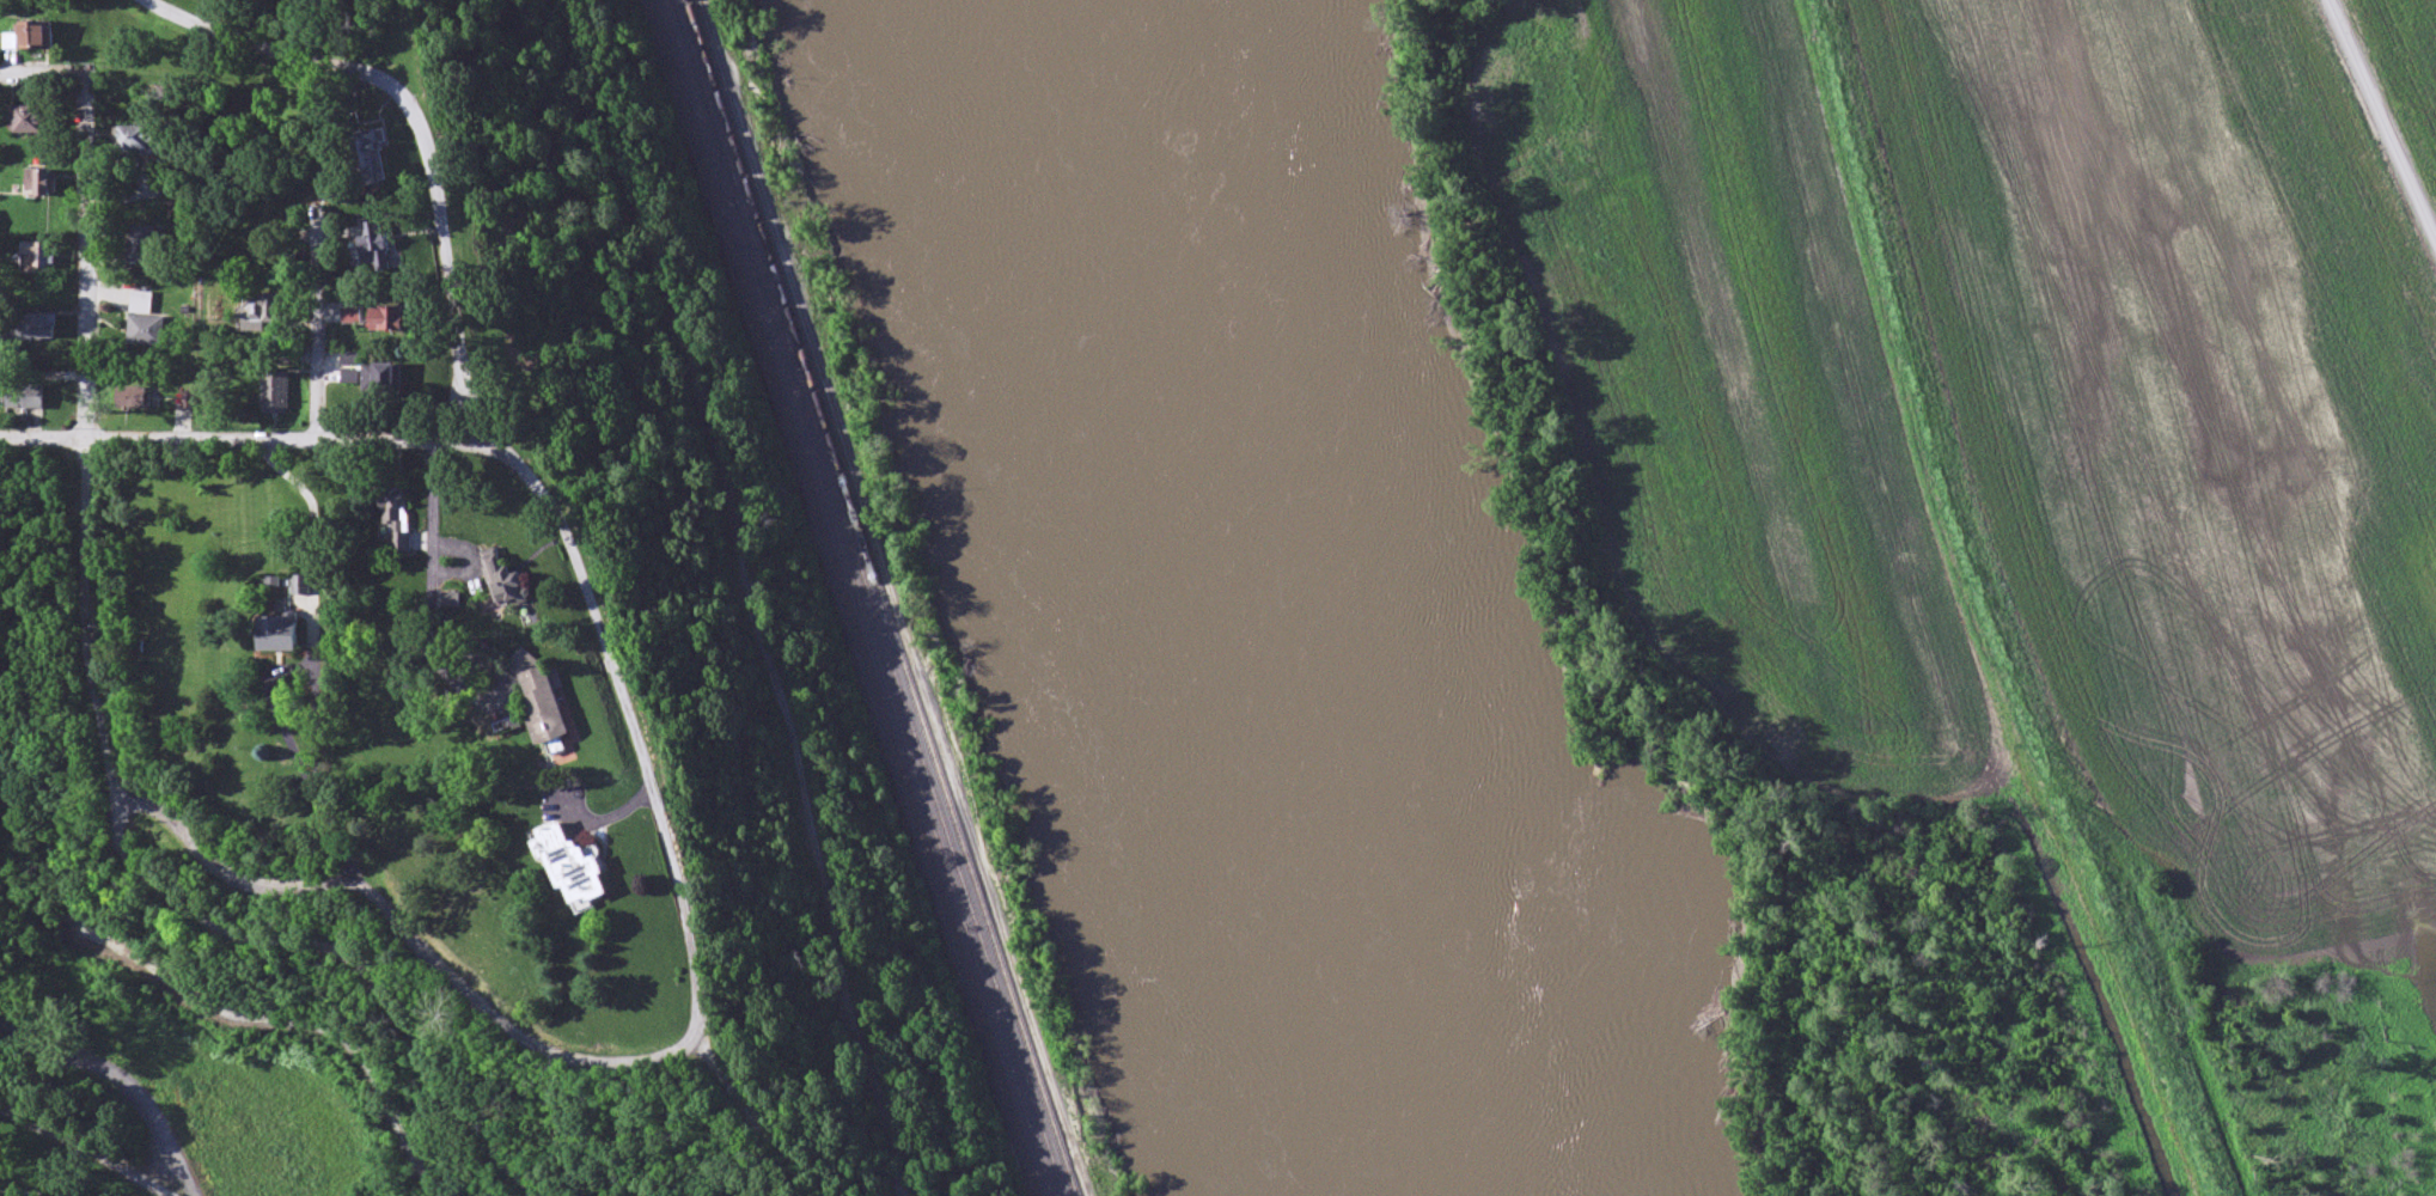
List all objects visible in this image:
building: (43, 38)
road: (45, 77)
building: (35, 117)
road: (2383, 118)
building: (147, 139)
building: (368, 158)
building: (43, 182)
building: (145, 244)
building: (378, 245)
building: (43, 254)
road: (87, 260)
building: (141, 303)
building: (260, 312)
building: (353, 316)
building: (389, 318)
road: (317, 325)
building: (30, 330)
building: (146, 331)
road: (458, 337)
building: (390, 380)
building: (276, 392)
building: (26, 397)
building: (134, 399)
road: (452, 415)
road: (257, 441)
railway: (811, 489)
building: (396, 519)
road: (432, 573)
building: (509, 584)
building: (301, 586)
road: (756, 592)
railway: (872, 597)
railway: (883, 597)
railway: (857, 598)
river: (1262, 599)
road: (84, 624)
building: (282, 634)
road: (292, 667)
building: (549, 703)
road: (317, 727)
building: (578, 867)
road: (700, 926)
road: (411, 939)
road: (341, 956)
park: (414, 1057)
railway: (1005, 1087)
road: (77, 1102)
road: (84, 1149)

